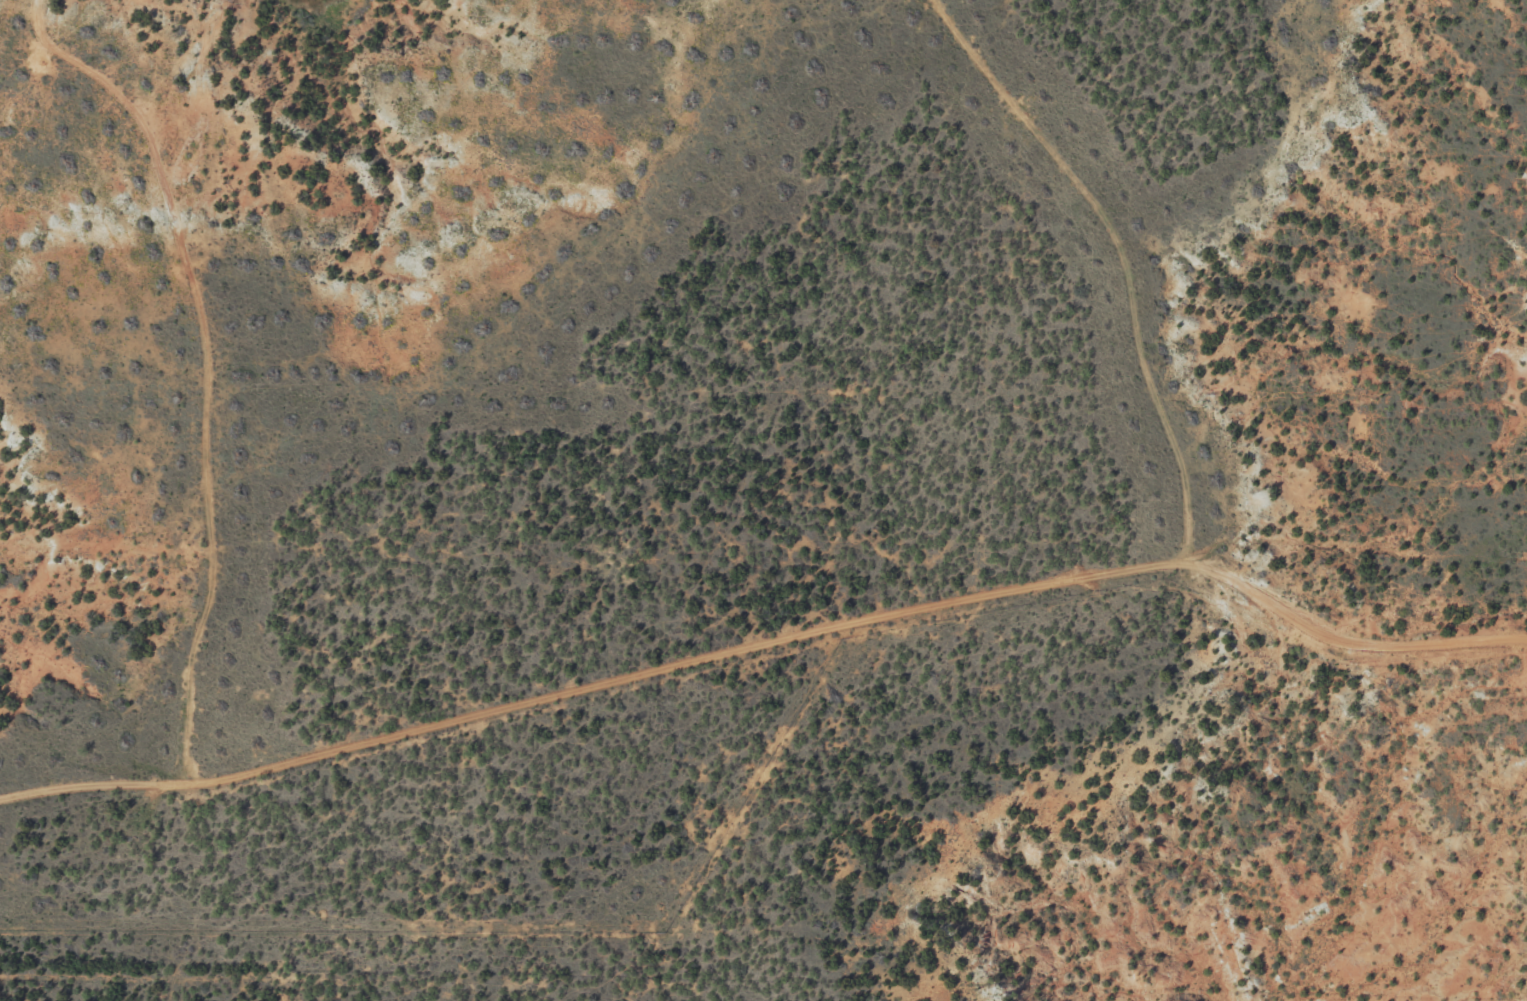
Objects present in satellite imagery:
road: (1101, 267)
road: (368, 390)
road: (812, 624)

